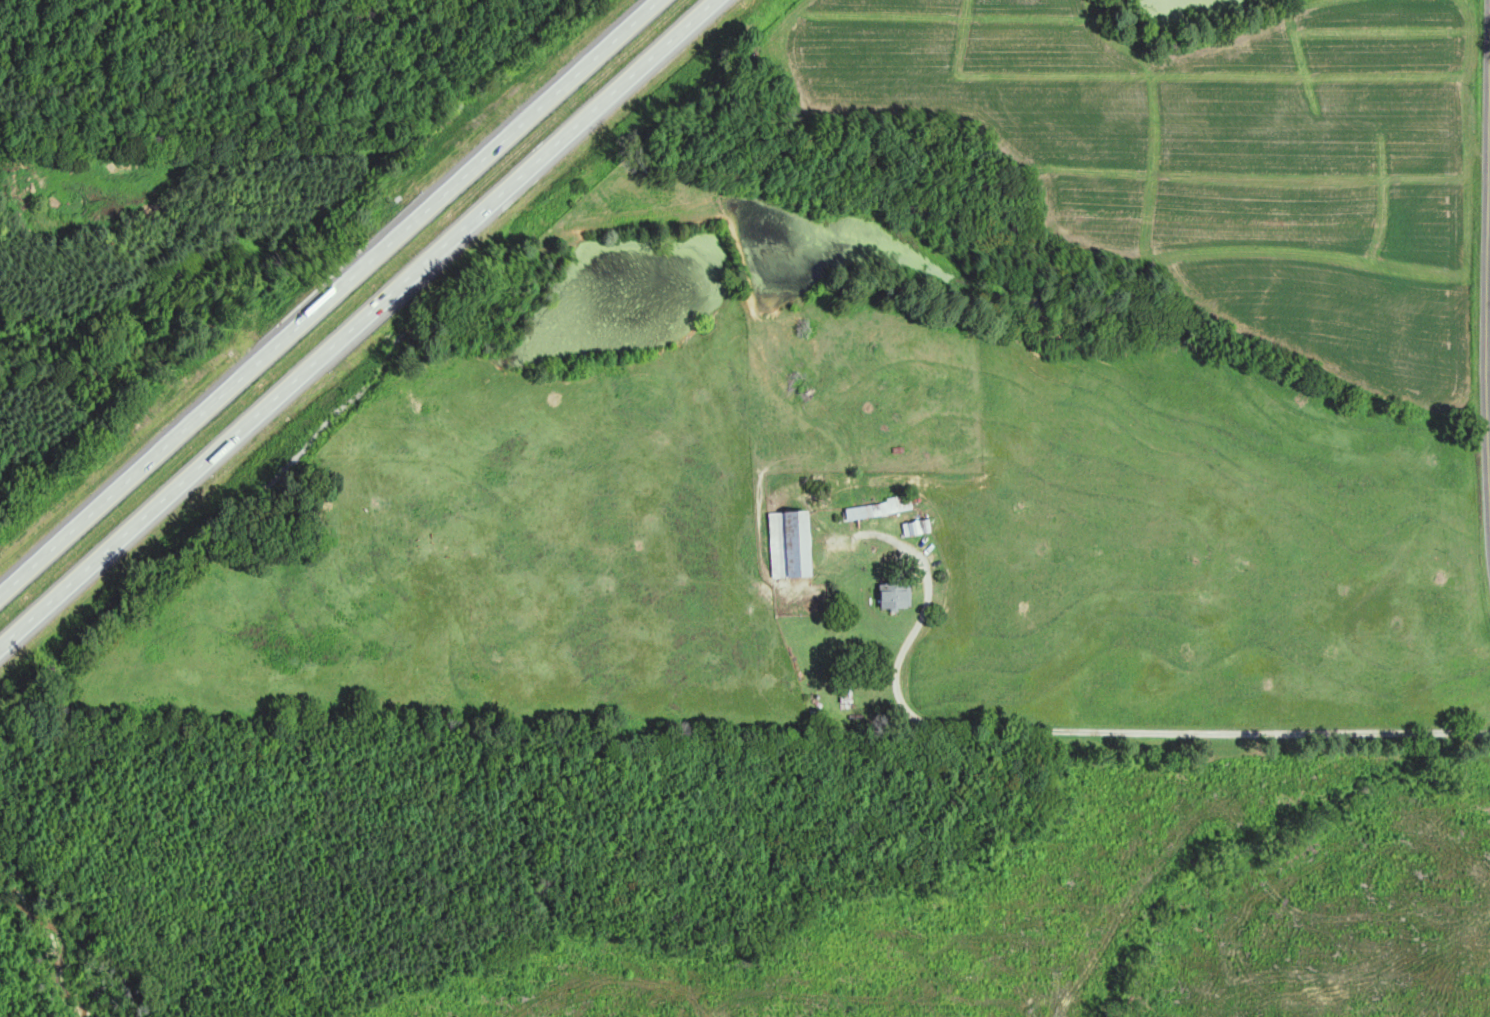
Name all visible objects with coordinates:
road: (1488, 292)
road: (325, 294)
road: (357, 326)
building: (881, 509)
building: (913, 530)
building: (793, 545)
building: (898, 596)
building: (849, 689)
road: (1096, 737)

